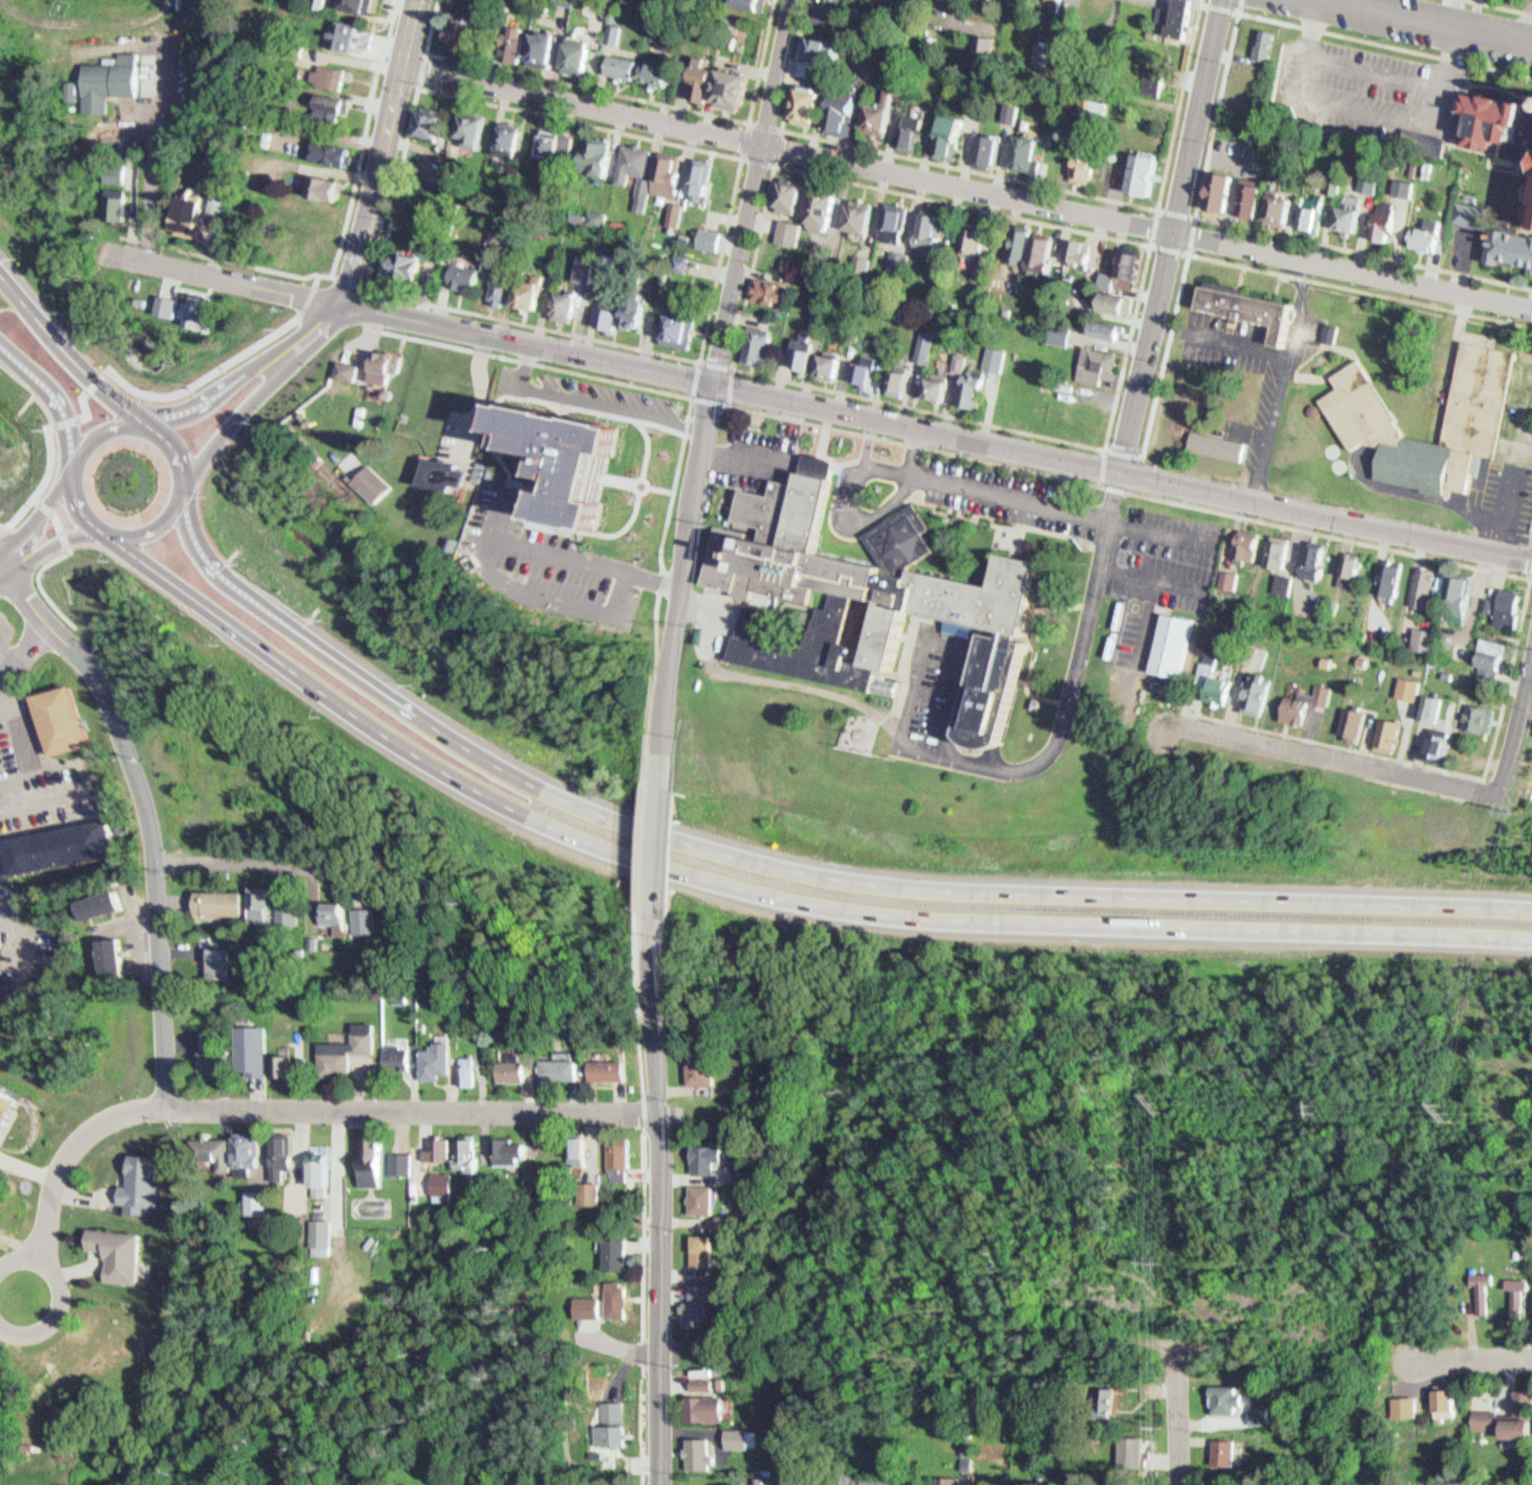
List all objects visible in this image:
building: (1026, 0)
building: (599, 1)
building: (748, 1)
building: (322, 2)
building: (1047, 2)
building: (359, 3)
building: (1097, 5)
road: (1502, 6)
road: (1234, 9)
building: (822, 12)
building: (1171, 14)
road: (1454, 14)
road: (1426, 22)
building: (620, 25)
building: (613, 26)
building: (730, 28)
building: (346, 30)
building: (462, 30)
building: (358, 34)
building: (978, 38)
building: (511, 40)
building: (540, 42)
building: (814, 42)
building: (1271, 43)
building: (987, 44)
building: (827, 47)
road: (432, 51)
building: (574, 51)
building: (584, 56)
building: (619, 61)
road: (1373, 65)
building: (810, 66)
building: (652, 67)
building: (1151, 70)
building: (334, 72)
building: (697, 74)
building: (110, 77)
building: (708, 80)
building: (726, 82)
building: (72, 87)
road: (627, 95)
building: (1086, 98)
building: (804, 100)
building: (334, 103)
building: (837, 106)
building: (876, 106)
building: (1008, 106)
road: (1365, 108)
building: (849, 112)
building: (1014, 113)
building: (1098, 113)
building: (432, 116)
building: (885, 119)
building: (907, 125)
building: (470, 126)
building: (1501, 129)
building: (917, 131)
building: (944, 131)
building: (506, 132)
road: (1214, 135)
building: (551, 137)
building: (513, 139)
building: (1018, 143)
building: (981, 144)
building: (334, 147)
building: (591, 150)
building: (990, 150)
building: (602, 158)
road: (743, 158)
building: (631, 161)
building: (1035, 161)
building: (1423, 162)
building: (1078, 163)
road: (777, 164)
building: (1138, 167)
building: (123, 172)
building: (663, 172)
building: (696, 176)
road: (1012, 177)
building: (705, 181)
building: (1399, 181)
road: (156, 182)
building: (326, 182)
building: (1215, 186)
building: (1408, 187)
road: (971, 188)
building: (785, 189)
road: (754, 190)
building: (1225, 190)
road: (382, 191)
building: (1243, 195)
building: (116, 198)
building: (794, 198)
building: (1254, 198)
building: (819, 203)
building: (1271, 206)
building: (671, 207)
building: (189, 208)
building: (1283, 208)
building: (1305, 208)
building: (1341, 209)
building: (854, 210)
building: (575, 212)
building: (593, 212)
building: (1352, 212)
building: (1473, 213)
building: (677, 214)
building: (890, 216)
building: (1378, 216)
building: (318, 218)
building: (618, 218)
building: (864, 218)
building: (1529, 219)
building: (1388, 221)
building: (786, 226)
building: (925, 228)
building: (1420, 229)
building: (705, 232)
building: (792, 233)
building: (966, 233)
building: (505, 234)
building: (934, 234)
road: (1172, 235)
building: (1015, 240)
building: (974, 241)
building: (1024, 245)
building: (1510, 245)
road: (352, 248)
building: (1036, 248)
building: (1075, 251)
building: (311, 252)
road: (1191, 253)
building: (896, 254)
building: (679, 258)
building: (782, 258)
building: (858, 259)
building: (405, 263)
building: (610, 263)
building: (581, 264)
building: (1117, 264)
building: (1134, 264)
building: (975, 265)
building: (589, 268)
building: (1531, 269)
building: (462, 271)
road: (228, 278)
building: (1109, 279)
building: (497, 285)
building: (769, 287)
building: (523, 289)
road: (1361, 290)
road: (379, 291)
building: (1106, 298)
building: (560, 299)
building: (569, 306)
building: (1251, 307)
building: (198, 308)
building: (629, 308)
building: (604, 312)
building: (639, 312)
building: (938, 312)
building: (1100, 322)
building: (674, 325)
building: (937, 325)
building: (1053, 327)
building: (1110, 328)
building: (1334, 333)
building: (920, 338)
building: (753, 340)
building: (928, 345)
road: (72, 346)
building: (798, 347)
building: (993, 353)
building: (956, 357)
building: (823, 358)
building: (963, 362)
building: (1098, 364)
building: (833, 365)
building: (860, 365)
building: (361, 370)
building: (390, 374)
building: (897, 375)
building: (932, 381)
road: (129, 384)
building: (968, 385)
building: (940, 388)
road: (62, 396)
road: (227, 396)
road: (726, 402)
building: (1360, 408)
road: (251, 422)
road: (686, 428)
road: (944, 432)
road: (111, 434)
road: (194, 446)
building: (1223, 446)
road: (1108, 447)
building: (563, 460)
road: (1104, 465)
building: (452, 474)
building: (387, 480)
road: (95, 506)
road: (57, 515)
road: (2, 522)
road: (3, 529)
road: (171, 533)
road: (69, 537)
building: (1242, 540)
road: (1371, 543)
building: (1253, 546)
building: (1272, 546)
building: (1284, 554)
building: (1308, 557)
road: (3, 558)
road: (13, 558)
building: (1321, 561)
building: (1345, 562)
road: (3, 566)
building: (1355, 572)
building: (1384, 572)
road: (1530, 572)
building: (1224, 577)
building: (1233, 579)
building: (1279, 579)
building: (1393, 579)
road: (681, 582)
building: (1418, 582)
building: (1288, 583)
building: (1428, 588)
building: (1447, 590)
building: (1459, 597)
building: (870, 602)
building: (1495, 602)
building: (1415, 636)
building: (1168, 642)
building: (1484, 649)
building: (1452, 652)
road: (31, 655)
building: (1205, 655)
building: (1462, 655)
building: (0, 657)
building: (1357, 658)
building: (1210, 669)
building: (1412, 669)
building: (1441, 673)
road: (1520, 676)
building: (1168, 677)
building: (1404, 686)
building: (1215, 687)
building: (1225, 690)
building: (1251, 690)
road: (1528, 690)
building: (1317, 692)
building: (1425, 706)
building: (1292, 708)
building: (1434, 708)
building: (1470, 714)
building: (64, 717)
building: (1348, 719)
road: (1518, 724)
building: (1385, 732)
building: (1429, 739)
building: (1443, 747)
road: (1347, 759)
road: (149, 811)
building: (60, 843)
road: (655, 846)
road: (666, 848)
road: (247, 860)
road: (801, 871)
road: (775, 897)
building: (257, 899)
building: (99, 900)
building: (215, 900)
building: (267, 904)
building: (109, 906)
building: (330, 910)
building: (286, 911)
building: (358, 916)
building: (367, 921)
building: (309, 939)
building: (111, 951)
building: (120, 958)
building: (217, 958)
road: (648, 1004)
building: (205, 1034)
building: (248, 1044)
building: (342, 1048)
building: (388, 1052)
building: (219, 1057)
building: (428, 1057)
building: (280, 1062)
building: (705, 1065)
building: (461, 1069)
building: (514, 1069)
building: (613, 1069)
building: (569, 1070)
building: (470, 1071)
building: (6, 1101)
road: (415, 1110)
road: (645, 1115)
building: (432, 1146)
building: (219, 1148)
building: (274, 1150)
building: (580, 1150)
road: (73, 1151)
building: (442, 1151)
building: (461, 1151)
building: (511, 1151)
building: (366, 1154)
building: (472, 1154)
building: (708, 1157)
building: (396, 1158)
building: (620, 1158)
building: (403, 1164)
building: (315, 1166)
building: (741, 1170)
building: (139, 1179)
building: (437, 1182)
building: (590, 1196)
road: (662, 1197)
building: (703, 1199)
building: (251, 1202)
building: (730, 1220)
building: (317, 1232)
road: (9, 1246)
building: (112, 1246)
building: (703, 1250)
road: (15, 1251)
building: (616, 1254)
building: (1485, 1289)
building: (1521, 1296)
building: (617, 1300)
building: (587, 1302)
road: (55, 1305)
building: (698, 1305)
road: (644, 1308)
road: (1473, 1357)
building: (705, 1383)
building: (723, 1384)
building: (1231, 1399)
building: (1446, 1400)
building: (1408, 1407)
building: (707, 1408)
building: (1265, 1415)
building: (1511, 1419)
road: (1178, 1421)
building: (612, 1425)
building: (739, 1437)
building: (1135, 1451)
building: (1228, 1452)
building: (700, 1453)
building: (862, 1478)
building: (949, 1481)
building: (1450, 1483)
building: (396, 1484)
building: (1341, 1484)

